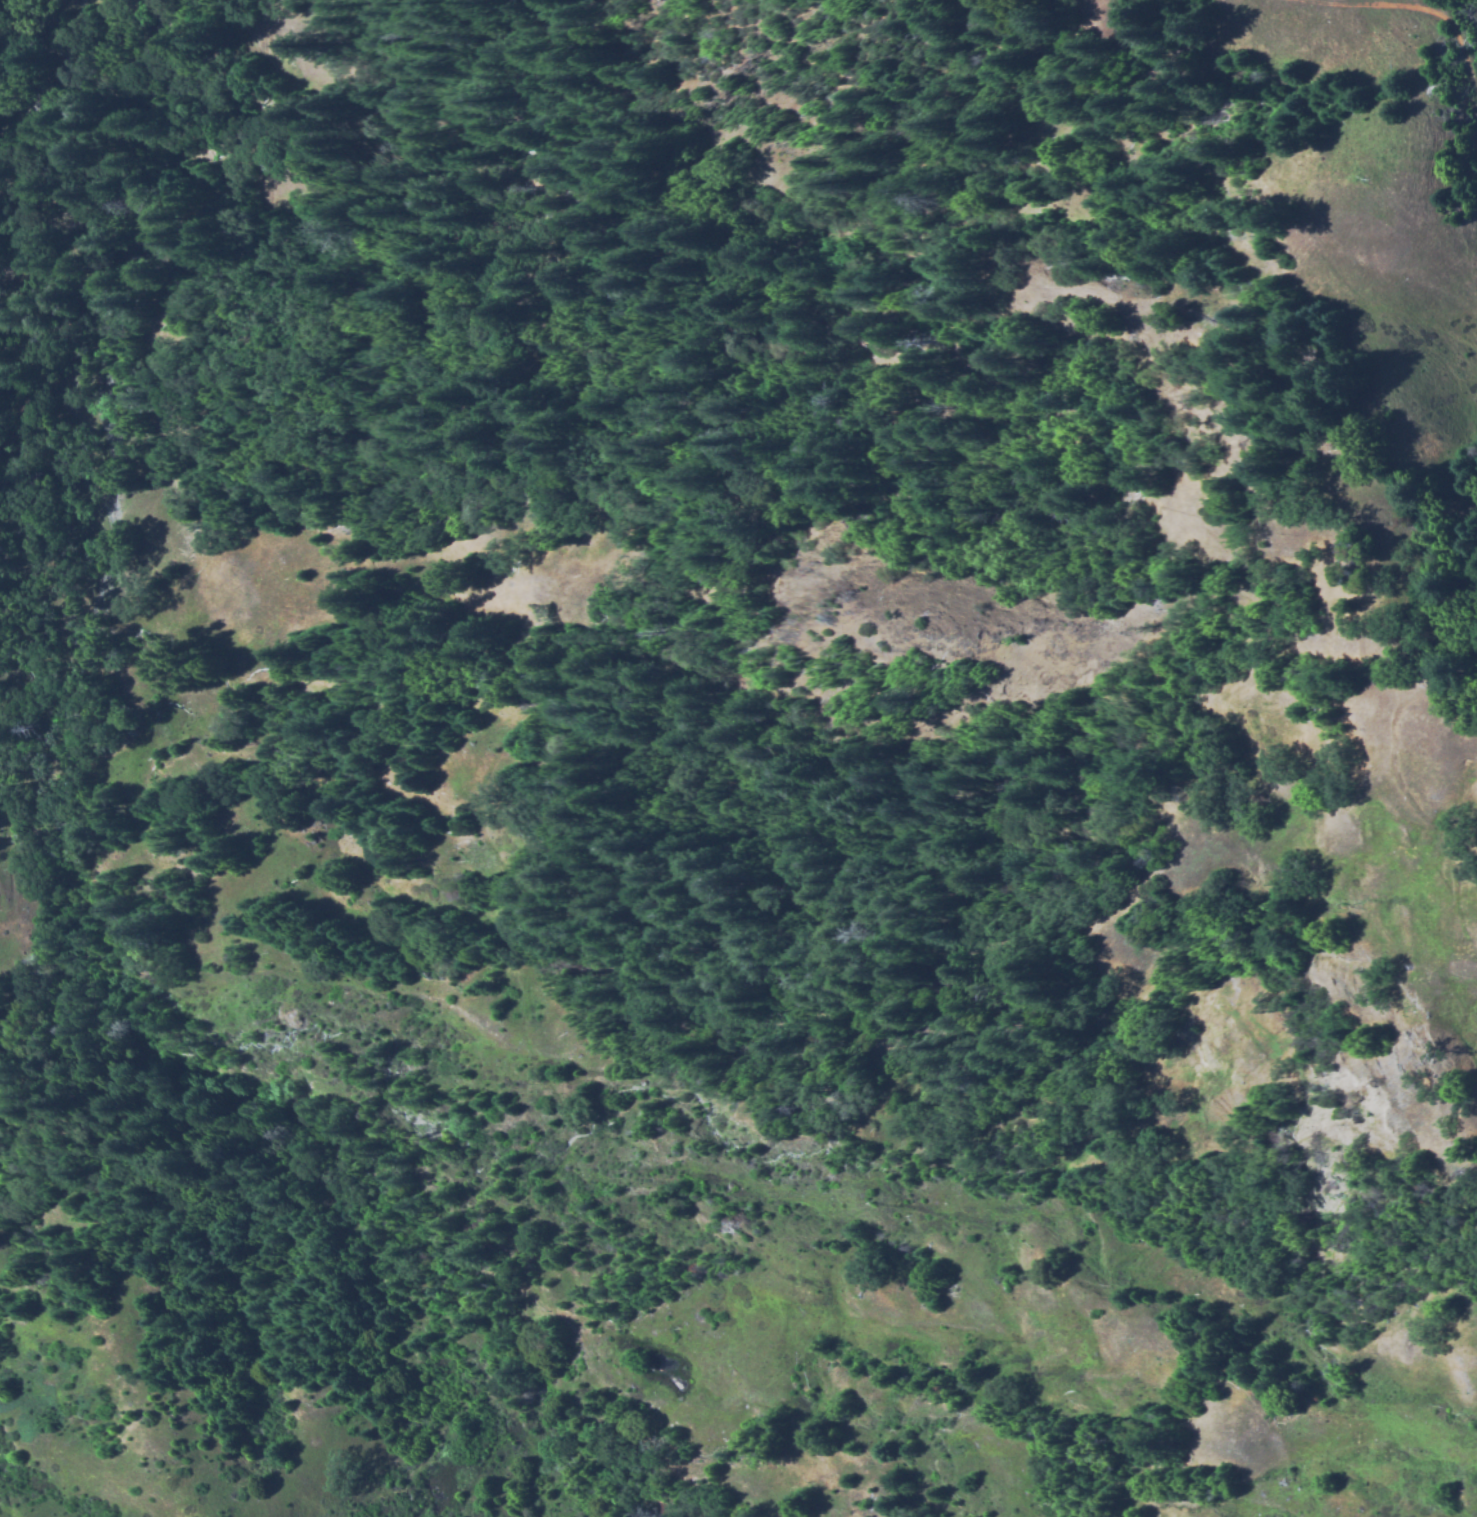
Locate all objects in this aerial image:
road: (44, 61)

